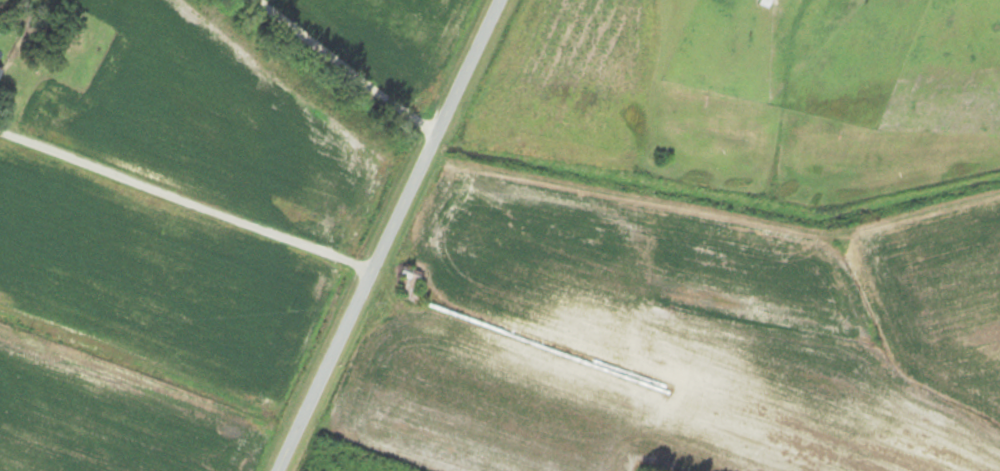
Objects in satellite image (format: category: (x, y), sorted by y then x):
building: (0, 67)
road: (184, 193)
road: (384, 234)
building: (409, 283)

